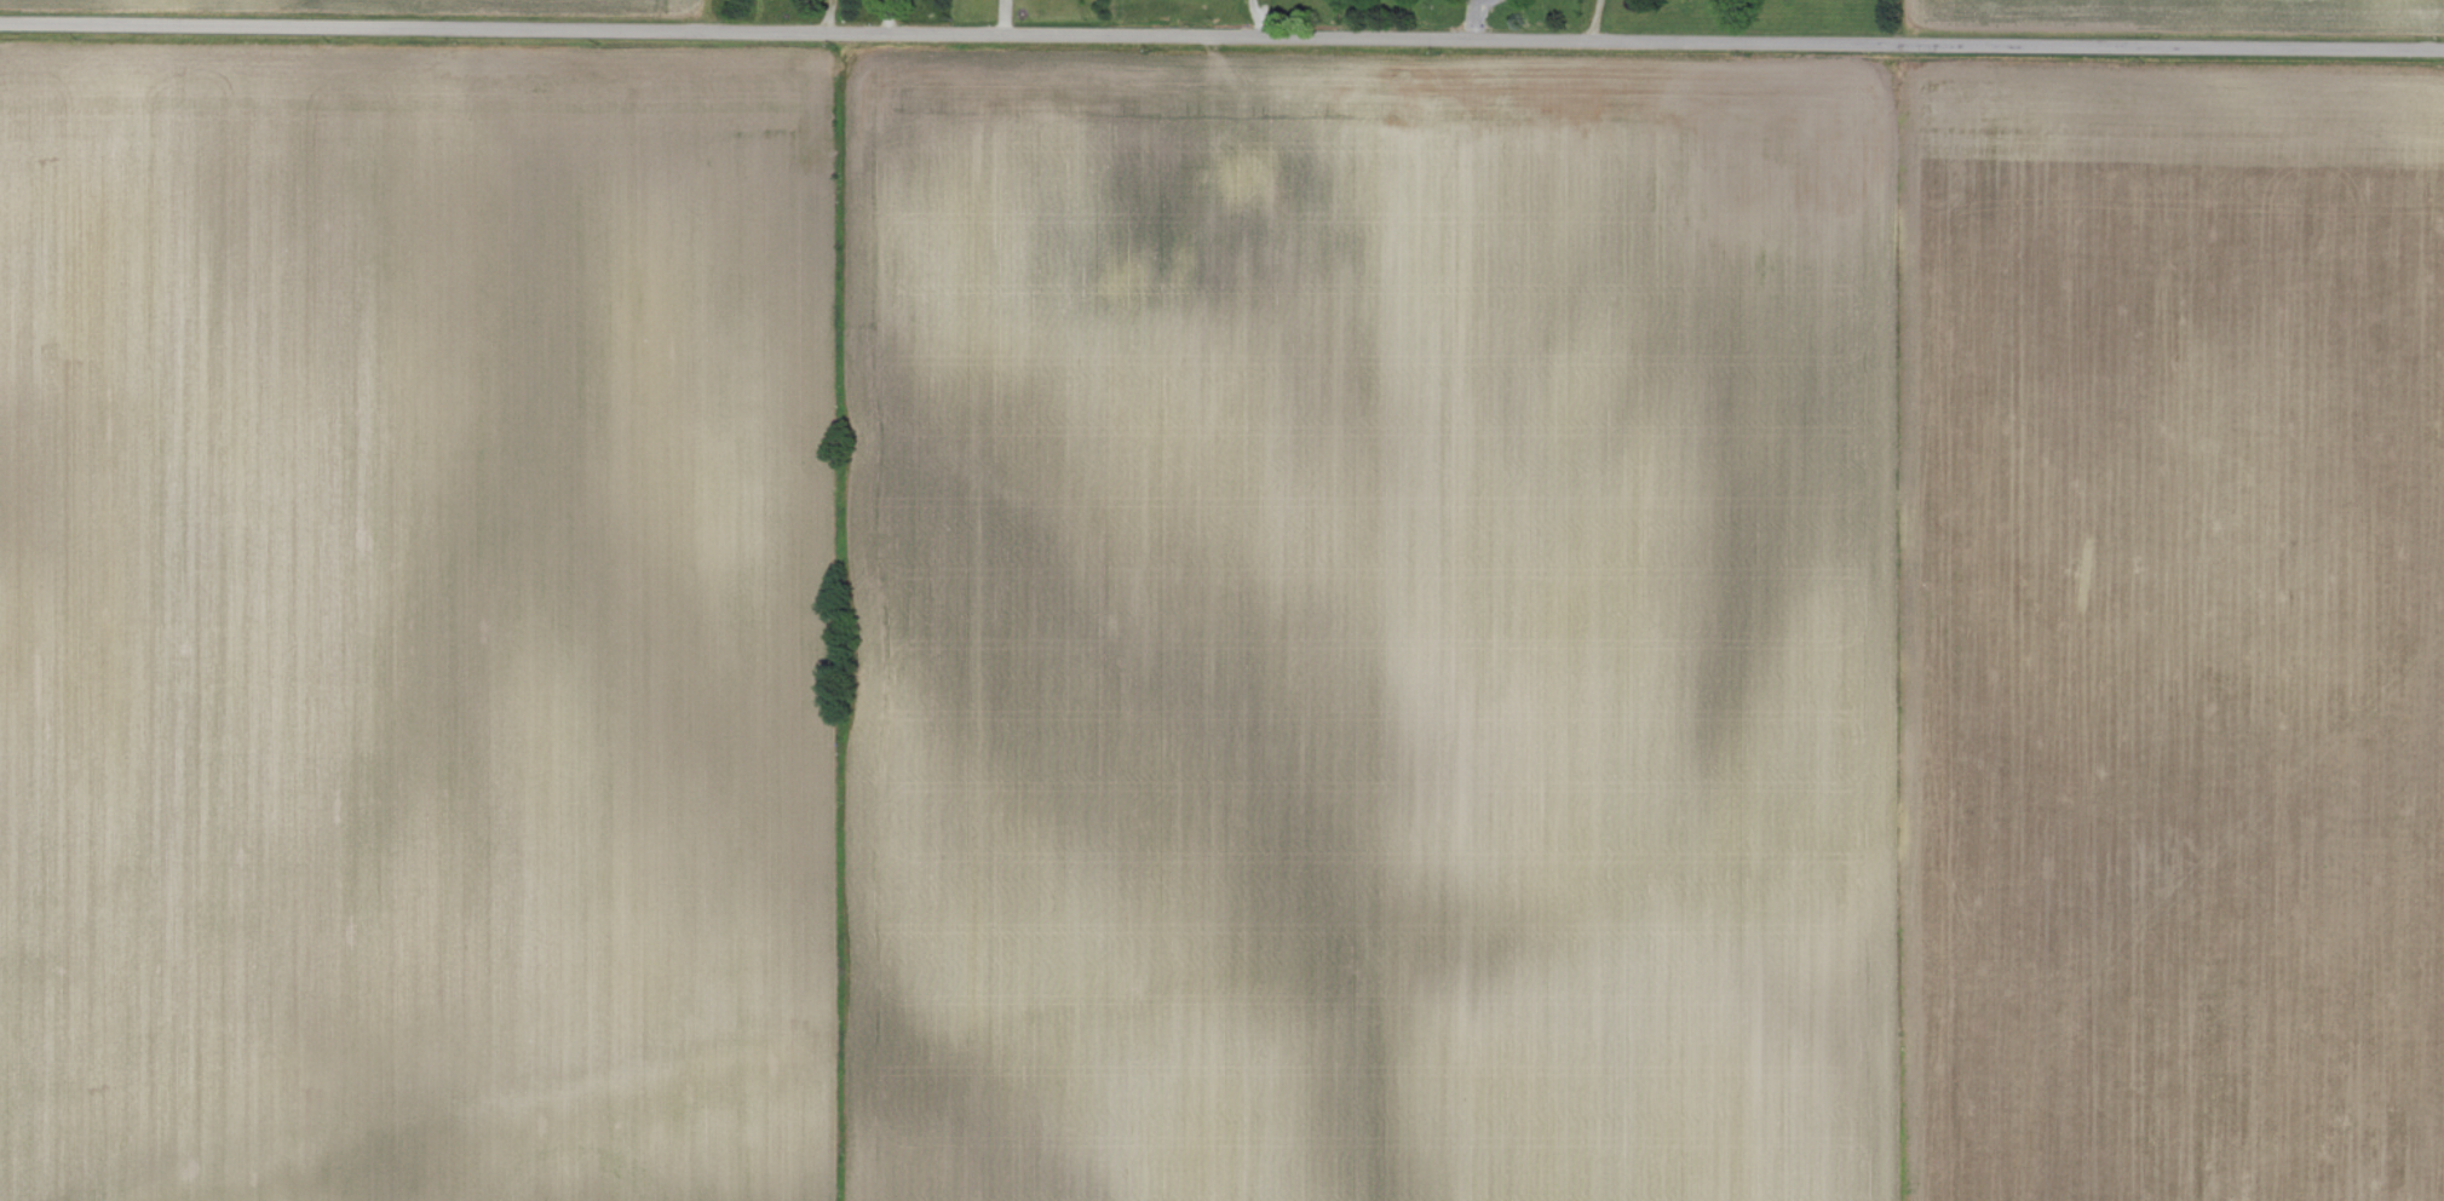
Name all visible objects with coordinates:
road: (1594, 19)
road: (1221, 35)

